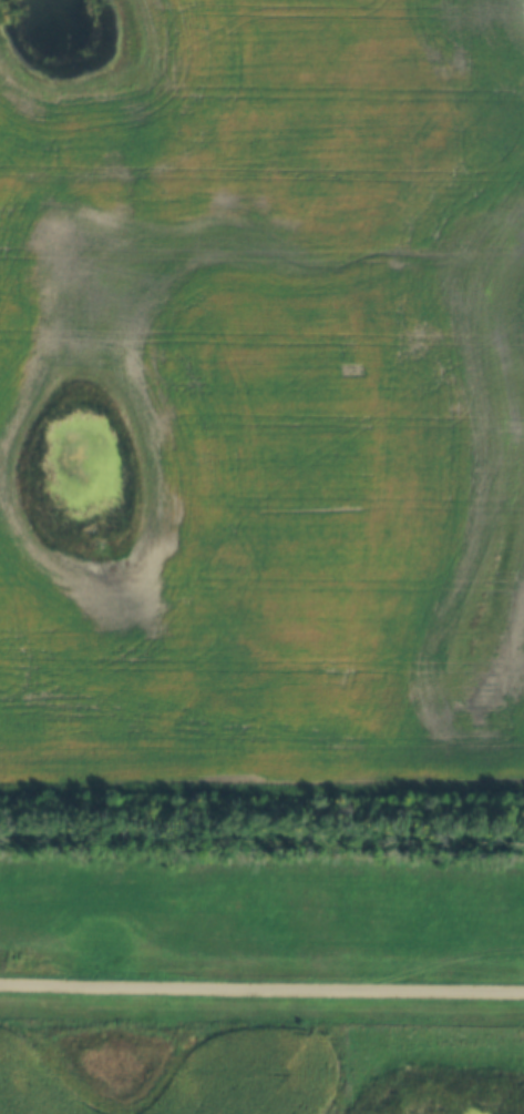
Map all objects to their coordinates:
road: (261, 994)

